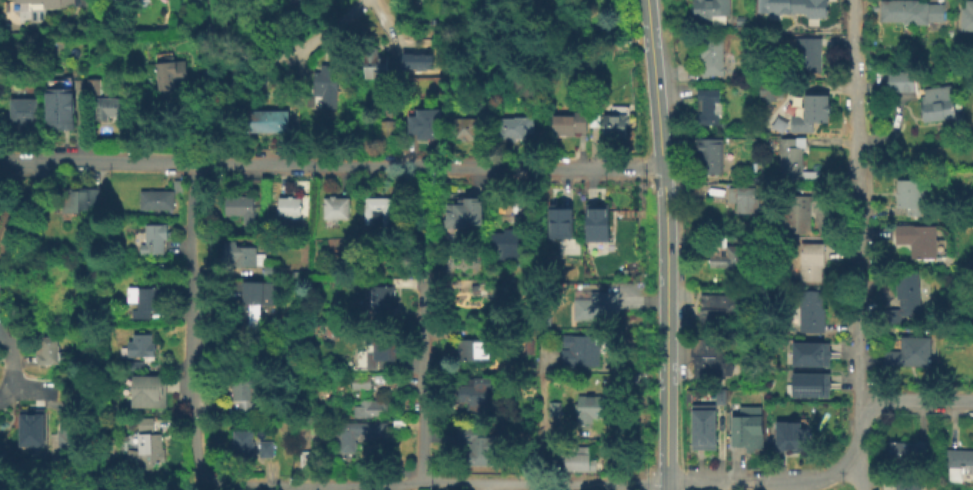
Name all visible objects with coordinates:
building: (316, 0)
building: (304, 2)
building: (63, 3)
building: (108, 3)
building: (771, 6)
building: (808, 7)
building: (709, 10)
building: (889, 10)
building: (920, 11)
building: (965, 14)
building: (740, 19)
building: (809, 53)
road: (286, 55)
building: (710, 57)
building: (373, 64)
building: (170, 75)
building: (900, 83)
building: (93, 88)
building: (324, 88)
building: (770, 92)
building: (938, 103)
building: (710, 108)
building: (110, 109)
building: (61, 110)
building: (24, 113)
building: (812, 113)
building: (616, 118)
building: (594, 119)
building: (268, 120)
building: (566, 122)
building: (427, 124)
building: (471, 126)
building: (517, 127)
road: (196, 131)
building: (709, 156)
road: (200, 158)
building: (791, 159)
road: (331, 164)
building: (911, 196)
building: (79, 198)
building: (744, 200)
building: (820, 200)
building: (157, 201)
building: (290, 208)
building: (241, 209)
building: (337, 209)
building: (383, 212)
building: (466, 212)
building: (795, 214)
building: (560, 222)
road: (424, 225)
building: (597, 225)
road: (855, 230)
building: (156, 240)
building: (918, 240)
building: (507, 244)
road: (667, 244)
building: (243, 255)
building: (725, 256)
building: (811, 262)
road: (10, 263)
road: (193, 292)
building: (905, 300)
building: (144, 301)
building: (258, 305)
building: (384, 305)
building: (600, 307)
building: (715, 309)
building: (812, 311)
building: (328, 334)
building: (304, 342)
building: (141, 346)
building: (383, 348)
building: (474, 348)
building: (51, 350)
building: (582, 351)
building: (911, 352)
building: (808, 353)
building: (710, 360)
building: (362, 382)
road: (424, 384)
building: (808, 384)
building: (146, 393)
building: (475, 393)
building: (247, 394)
road: (914, 400)
building: (372, 409)
building: (590, 411)
building: (147, 425)
building: (30, 427)
building: (703, 429)
building: (67, 431)
building: (747, 432)
building: (790, 433)
building: (363, 434)
building: (478, 443)
building: (252, 446)
building: (153, 447)
building: (908, 452)
road: (198, 453)
building: (579, 460)
building: (959, 464)
road: (854, 473)
road: (759, 482)
road: (440, 484)
building: (909, 484)
road: (214, 485)
road: (478, 487)
road: (296, 488)

